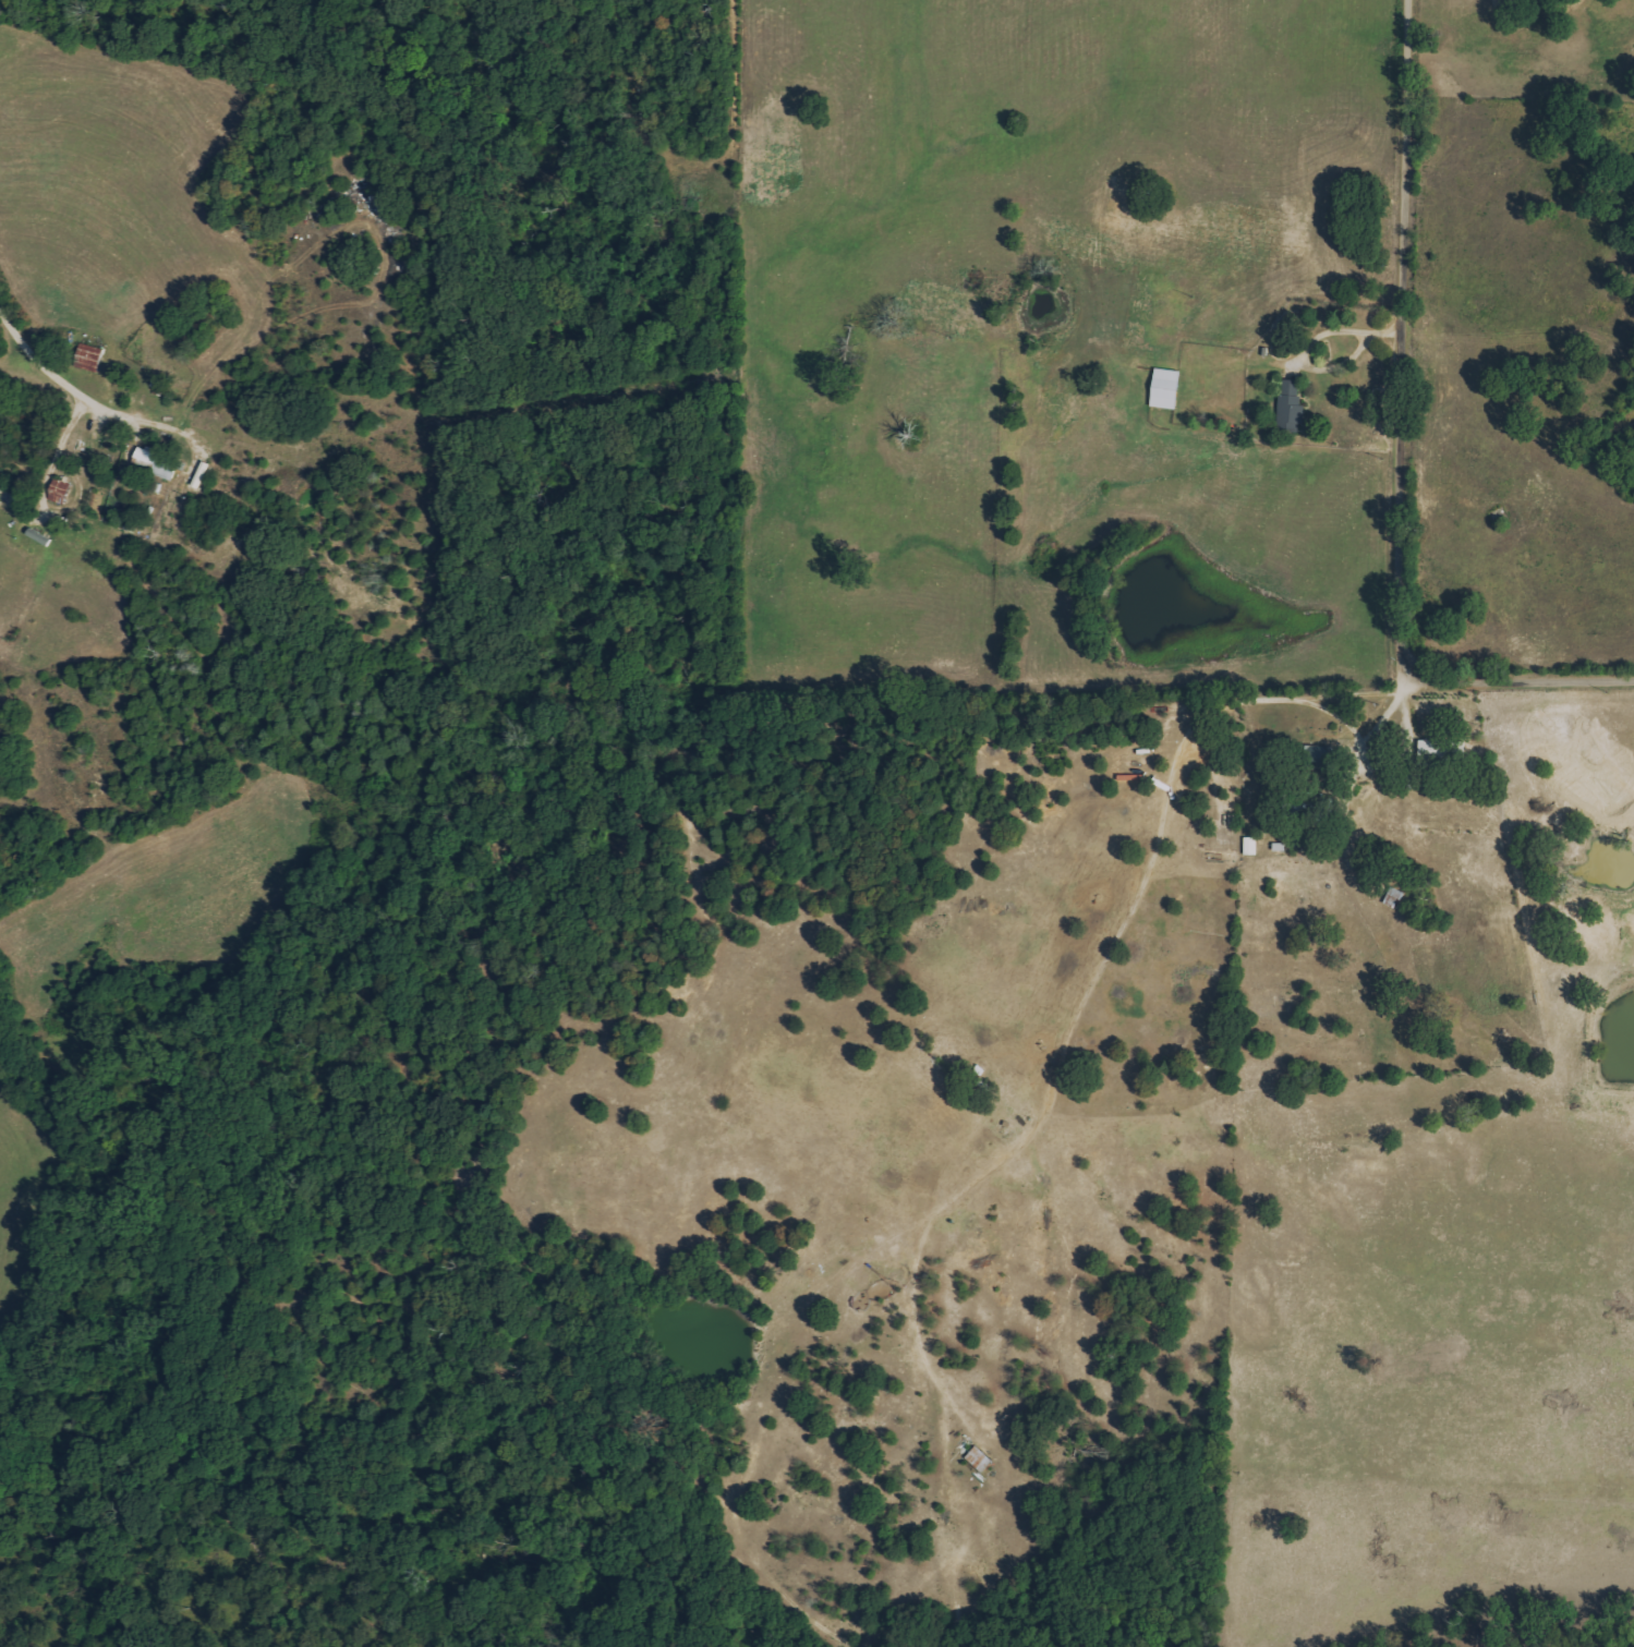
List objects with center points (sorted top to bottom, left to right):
road: (1402, 339)
road: (1307, 343)
building: (90, 358)
road: (44, 367)
building: (1167, 388)
building: (1293, 404)
building: (157, 463)
building: (61, 491)
road: (1526, 680)
road: (1358, 695)
road: (1102, 978)

